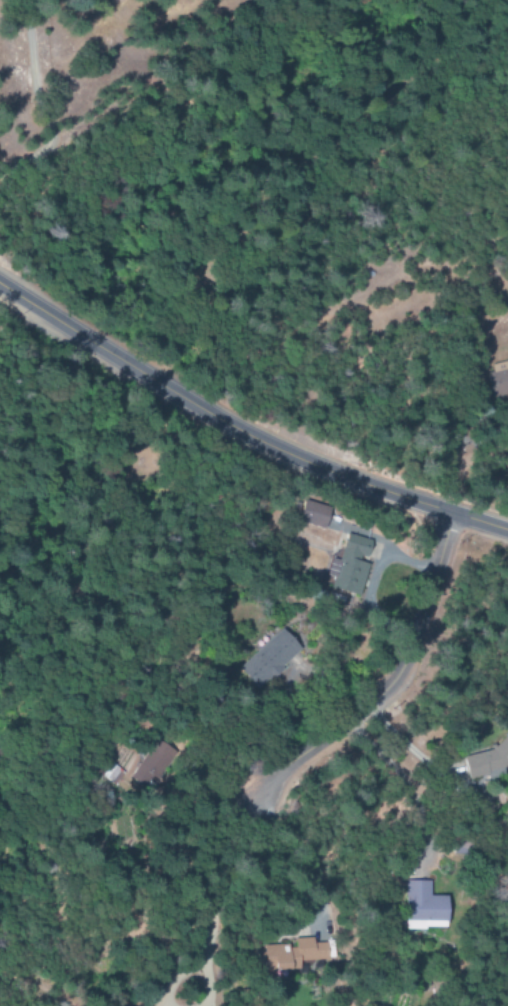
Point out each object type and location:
building: (499, 379)
road: (241, 433)
building: (314, 513)
building: (350, 567)
building: (270, 658)
road: (395, 676)
building: (488, 759)
road: (214, 899)
building: (425, 907)
building: (292, 955)

